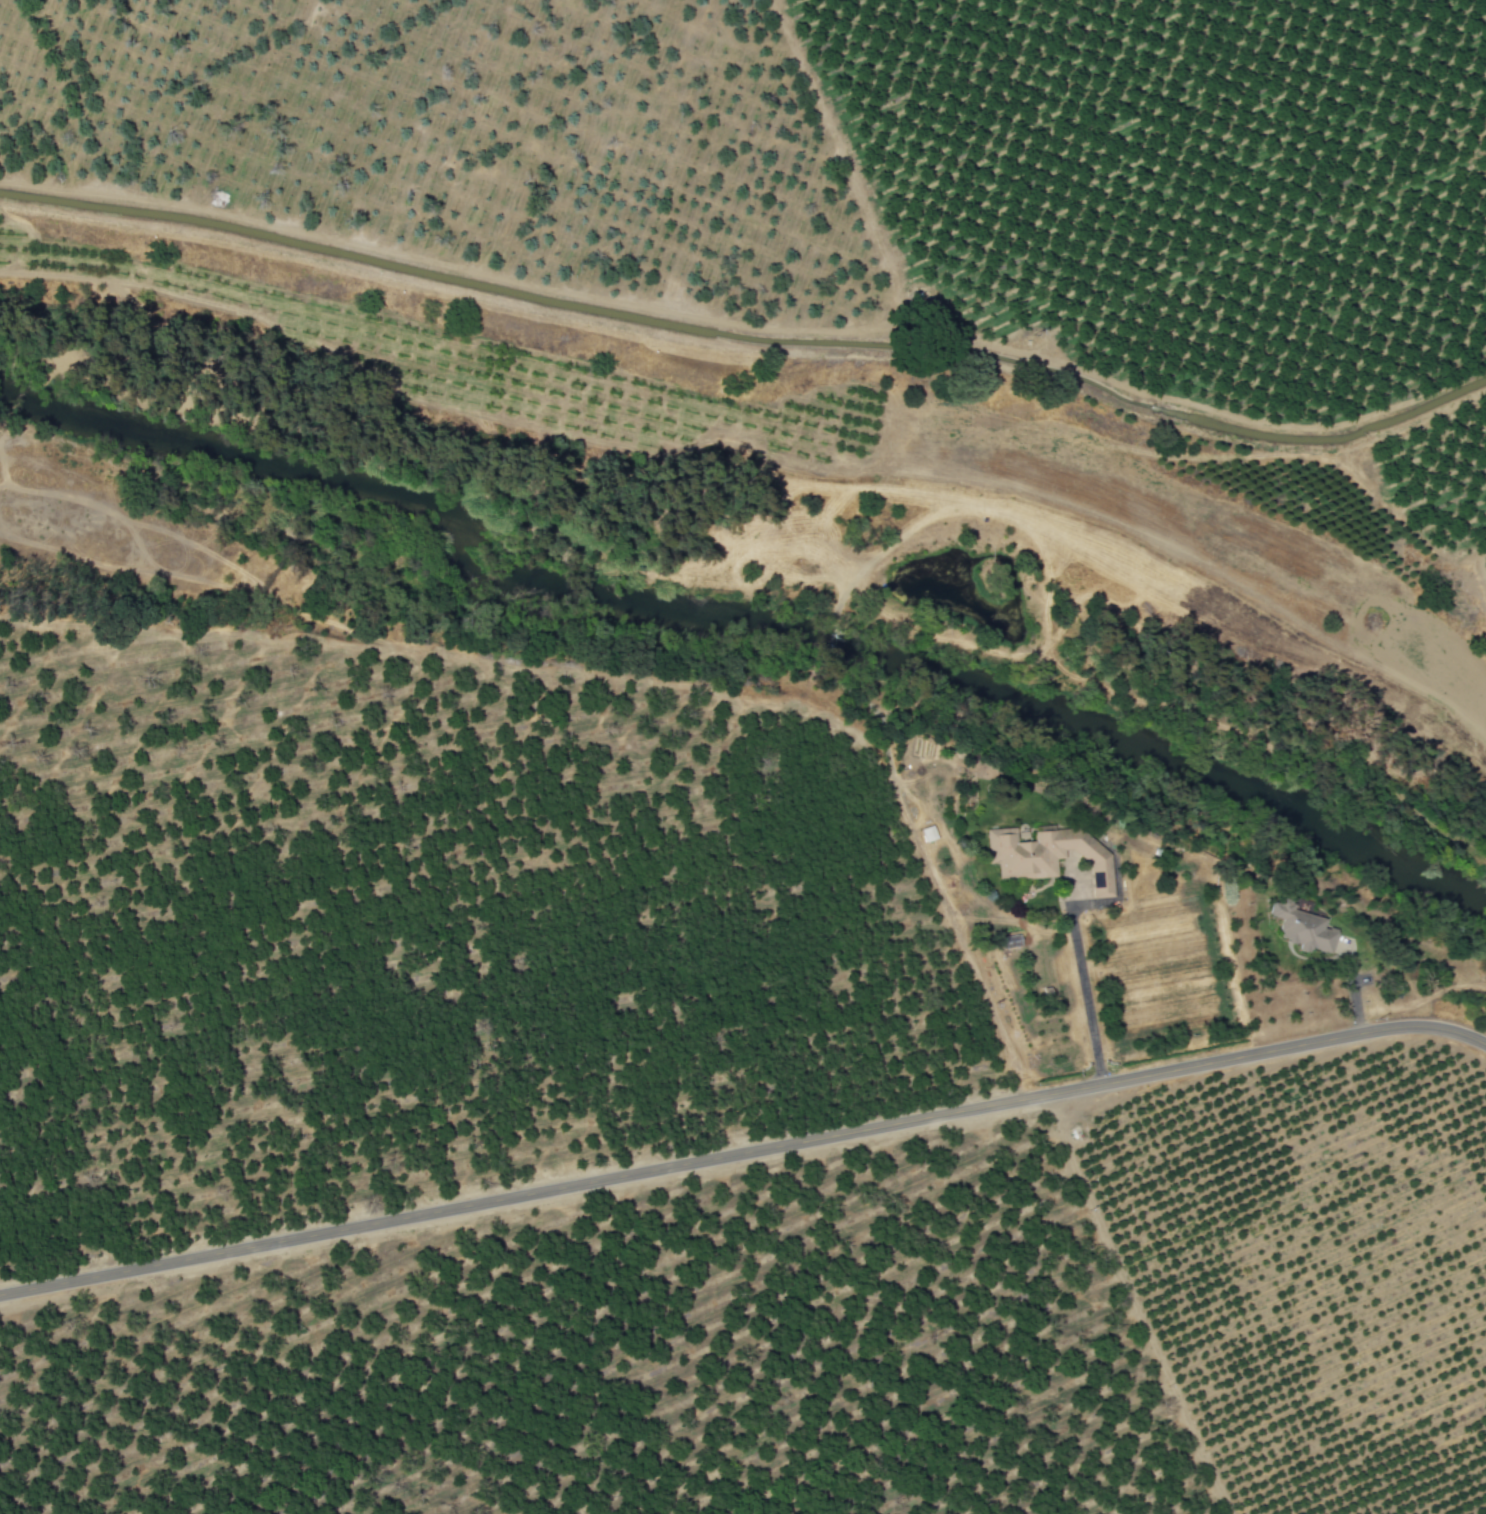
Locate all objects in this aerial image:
river: (742, 634)
road: (1390, 791)
building: (1051, 857)
building: (1305, 927)
road: (1084, 989)
road: (744, 1151)

